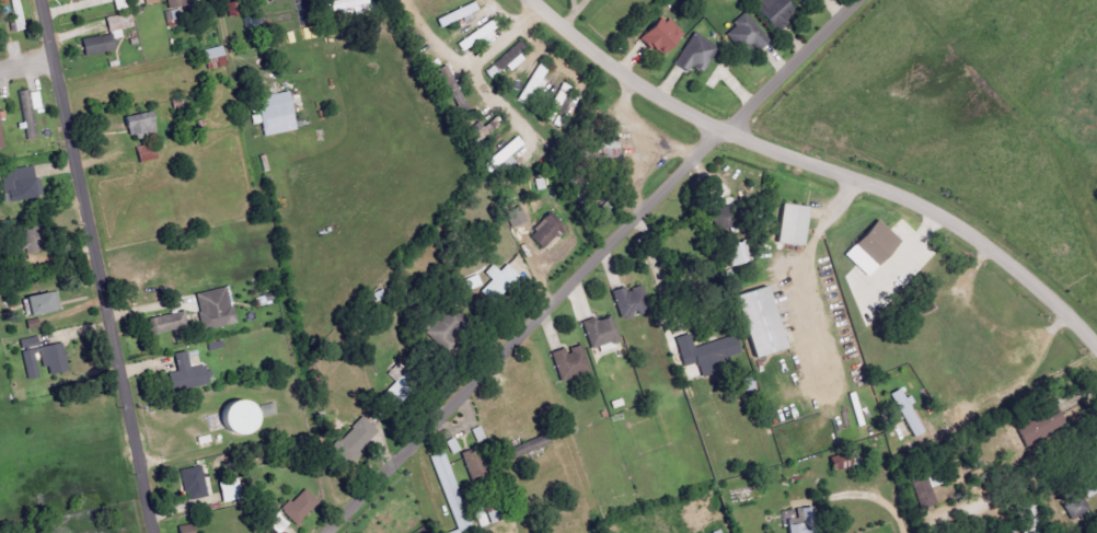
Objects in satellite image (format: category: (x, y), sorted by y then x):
building: (72, 0)
building: (800, 0)
building: (151, 1)
building: (173, 3)
building: (348, 5)
building: (774, 12)
building: (16, 15)
building: (457, 15)
building: (118, 22)
building: (740, 33)
building: (656, 34)
building: (476, 38)
building: (96, 45)
building: (691, 53)
building: (216, 58)
building: (507, 61)
road: (28, 70)
road: (465, 72)
building: (533, 84)
building: (556, 103)
road: (499, 108)
building: (30, 113)
building: (0, 117)
building: (273, 117)
building: (139, 124)
building: (482, 130)
building: (0, 141)
road: (624, 146)
road: (659, 147)
building: (608, 148)
building: (146, 153)
building: (505, 157)
road: (817, 161)
building: (14, 183)
building: (516, 217)
building: (723, 219)
building: (790, 224)
building: (546, 231)
building: (27, 240)
building: (870, 247)
building: (737, 253)
road: (588, 264)
road: (96, 266)
road: (657, 268)
road: (801, 269)
building: (498, 280)
building: (627, 301)
building: (41, 303)
building: (215, 309)
building: (759, 322)
building: (166, 323)
building: (596, 329)
building: (28, 344)
building: (705, 351)
building: (53, 359)
building: (568, 362)
building: (30, 364)
building: (187, 374)
road: (1026, 380)
road: (1084, 397)
building: (267, 410)
building: (901, 412)
building: (235, 418)
water tower: (245, 418)
building: (859, 421)
building: (1039, 426)
building: (354, 440)
building: (453, 445)
building: (524, 449)
building: (838, 462)
building: (471, 463)
building: (194, 484)
building: (1090, 490)
building: (924, 493)
building: (451, 494)
road: (873, 498)
building: (1077, 508)
building: (297, 511)
building: (482, 515)
building: (278, 524)
building: (185, 529)
building: (796, 529)
building: (717, 531)

